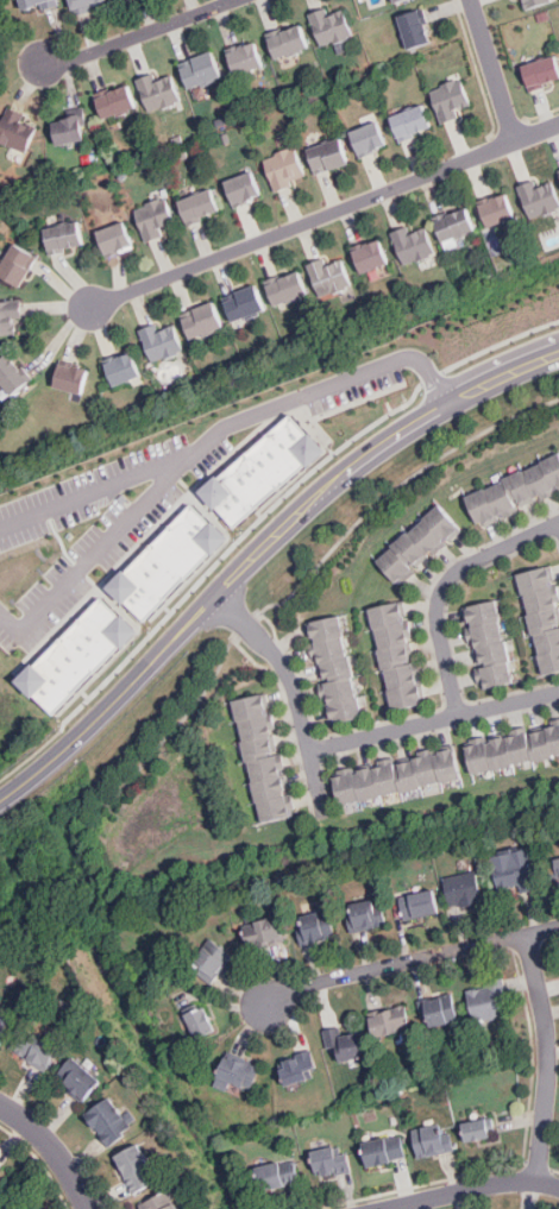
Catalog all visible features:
building: (121, 0)
building: (404, 1)
building: (533, 1)
building: (34, 2)
building: (86, 2)
building: (332, 24)
building: (415, 25)
road: (137, 34)
building: (290, 39)
building: (348, 46)
building: (246, 57)
building: (202, 68)
building: (544, 69)
road: (492, 70)
building: (161, 90)
building: (453, 97)
building: (119, 100)
building: (412, 121)
building: (70, 128)
building: (17, 131)
building: (370, 137)
building: (331, 153)
building: (287, 166)
building: (244, 185)
building: (541, 197)
building: (200, 203)
building: (497, 210)
building: (157, 216)
road: (324, 218)
building: (454, 223)
building: (65, 233)
building: (115, 234)
building: (416, 241)
building: (373, 254)
building: (18, 262)
building: (333, 271)
building: (288, 288)
building: (245, 301)
building: (6, 315)
building: (206, 319)
building: (163, 341)
road: (498, 344)
building: (126, 366)
building: (11, 371)
building: (73, 377)
road: (432, 377)
road: (328, 386)
building: (552, 466)
building: (256, 470)
building: (538, 477)
building: (519, 485)
road: (392, 489)
road: (100, 490)
building: (500, 495)
building: (481, 503)
building: (444, 522)
road: (558, 522)
building: (428, 536)
building: (413, 550)
road: (100, 552)
road: (259, 552)
building: (163, 560)
building: (397, 563)
road: (206, 574)
building: (539, 581)
road: (444, 586)
building: (544, 602)
building: (486, 611)
building: (389, 613)
building: (546, 623)
building: (331, 624)
road: (246, 625)
building: (491, 631)
building: (394, 634)
building: (548, 644)
building: (335, 646)
building: (496, 651)
building: (71, 653)
building: (398, 654)
road: (282, 665)
building: (551, 665)
building: (341, 666)
building: (501, 672)
building: (403, 675)
building: (346, 686)
building: (409, 695)
building: (351, 707)
building: (251, 710)
road: (433, 720)
road: (176, 726)
building: (256, 730)
building: (554, 737)
building: (541, 743)
building: (521, 748)
building: (260, 749)
building: (501, 751)
building: (482, 757)
building: (446, 764)
building: (265, 769)
building: (427, 769)
building: (407, 774)
building: (387, 779)
road: (314, 783)
building: (366, 783)
building: (347, 788)
building: (270, 789)
building: (275, 810)
building: (514, 871)
building: (554, 871)
building: (466, 888)
building: (420, 901)
building: (370, 914)
building: (321, 921)
building: (264, 932)
building: (211, 958)
road: (410, 962)
building: (490, 1000)
building: (444, 1010)
building: (391, 1018)
building: (199, 1024)
building: (2, 1028)
building: (345, 1040)
building: (34, 1051)
road: (547, 1058)
building: (297, 1066)
building: (239, 1071)
building: (77, 1078)
building: (109, 1121)
building: (478, 1127)
building: (434, 1140)
road: (51, 1150)
building: (384, 1150)
building: (331, 1161)
building: (1, 1167)
building: (136, 1167)
building: (279, 1175)
road: (472, 1189)
building: (159, 1202)

